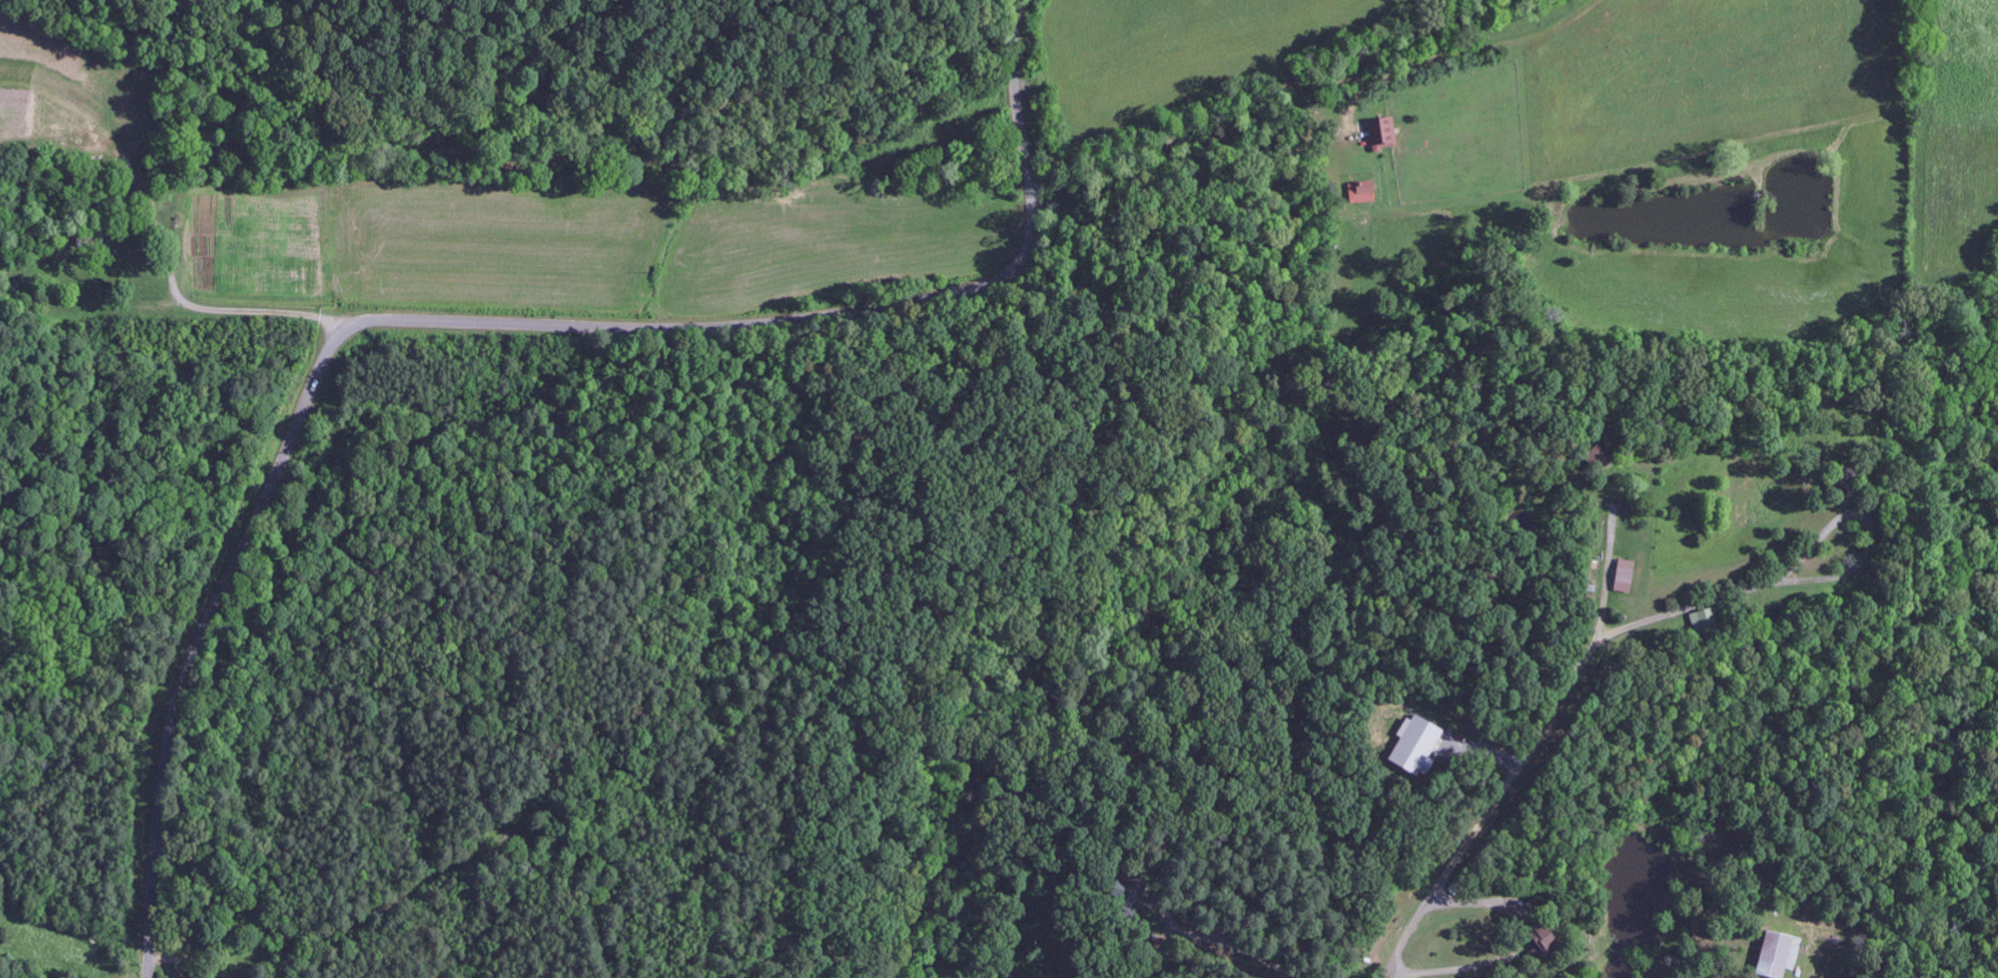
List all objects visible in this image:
building: (1385, 133)
building: (1363, 192)
road: (478, 324)
building: (1591, 457)
road: (1817, 542)
road: (1838, 575)
building: (1623, 576)
road: (1605, 580)
road: (1680, 611)
building: (1702, 619)
building: (1415, 746)
road: (1491, 812)
building: (1130, 891)
building: (1537, 939)
building: (1774, 955)

